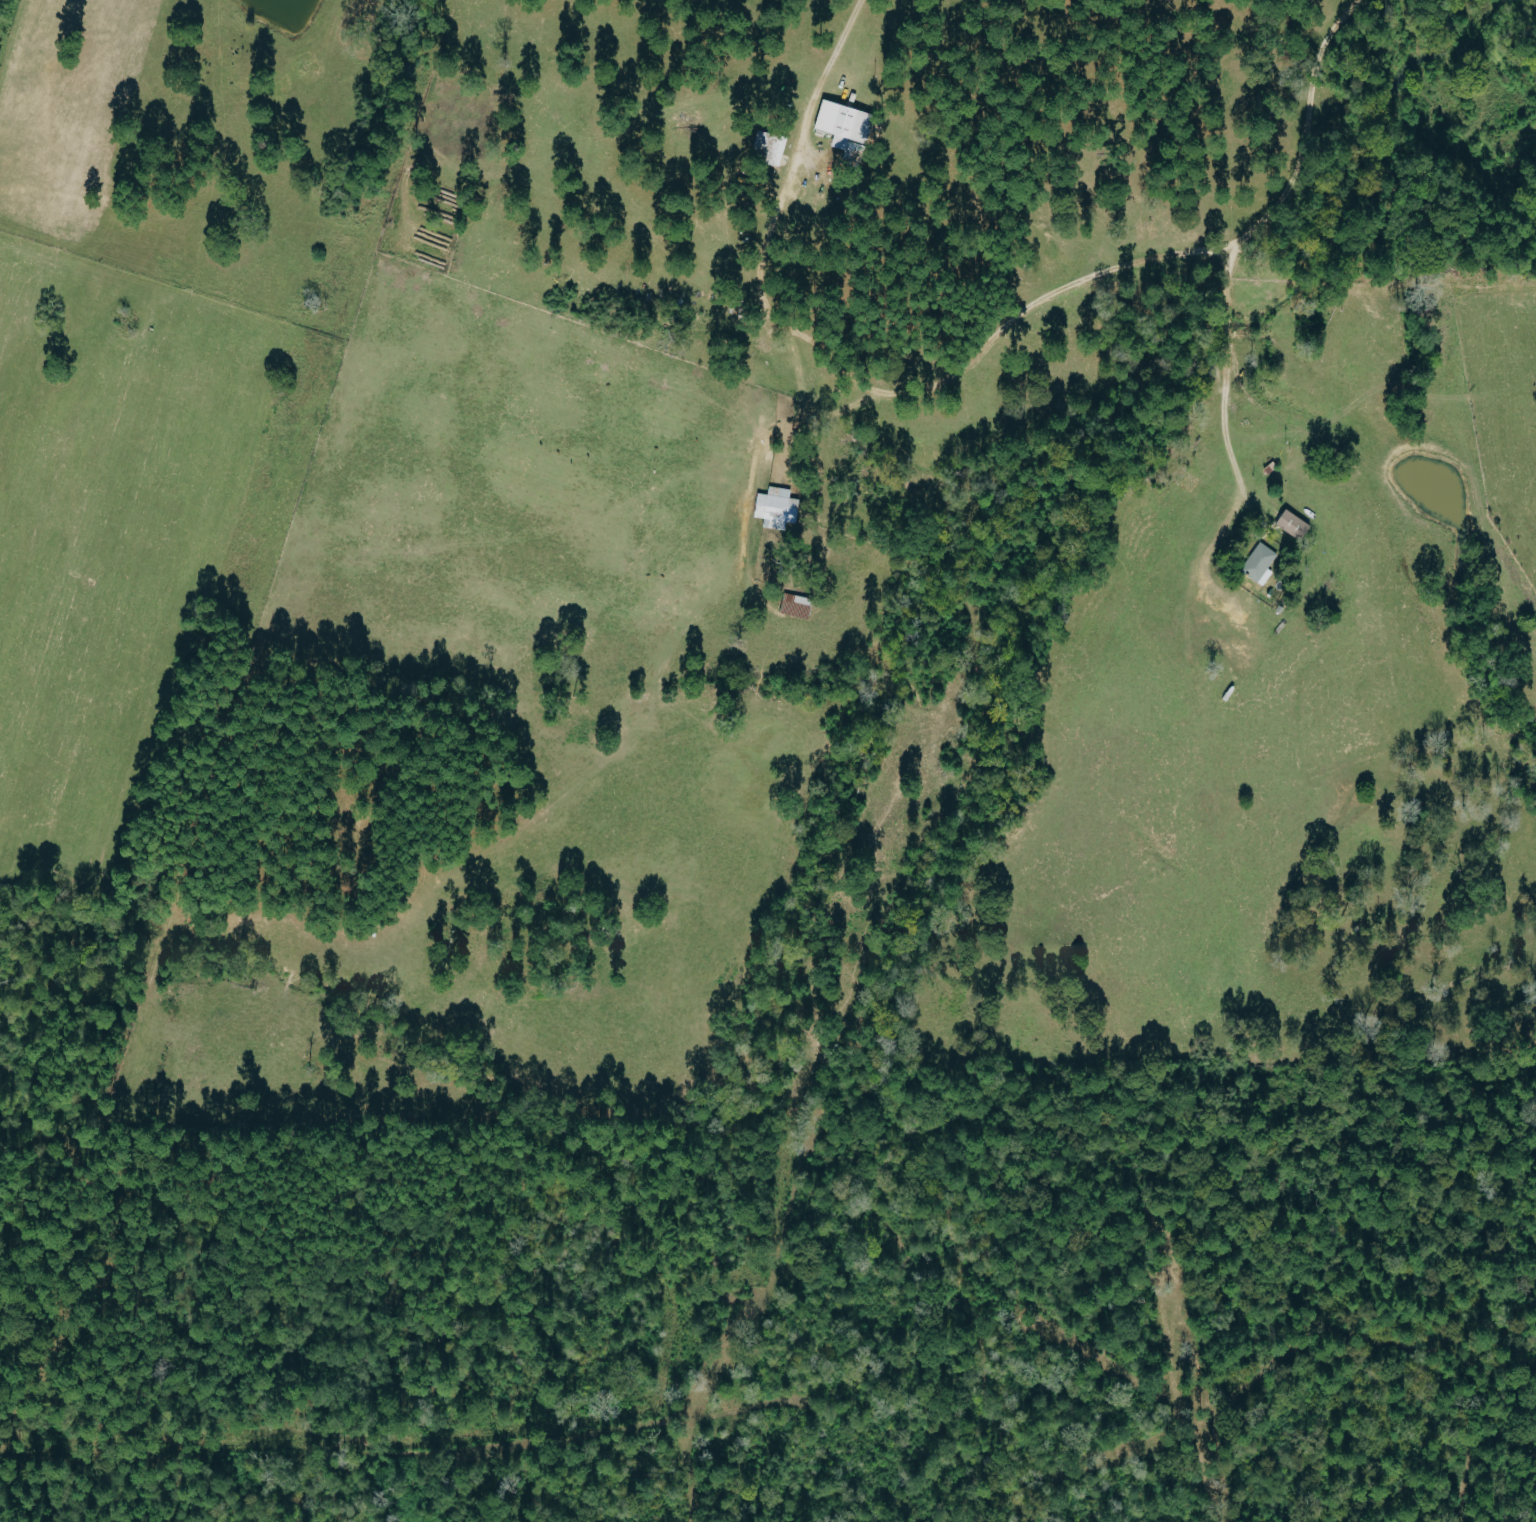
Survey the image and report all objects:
road: (820, 91)
building: (849, 130)
building: (772, 149)
road: (1050, 294)
road: (823, 417)
road: (1229, 432)
building: (780, 509)
building: (1295, 526)
building: (1262, 565)

